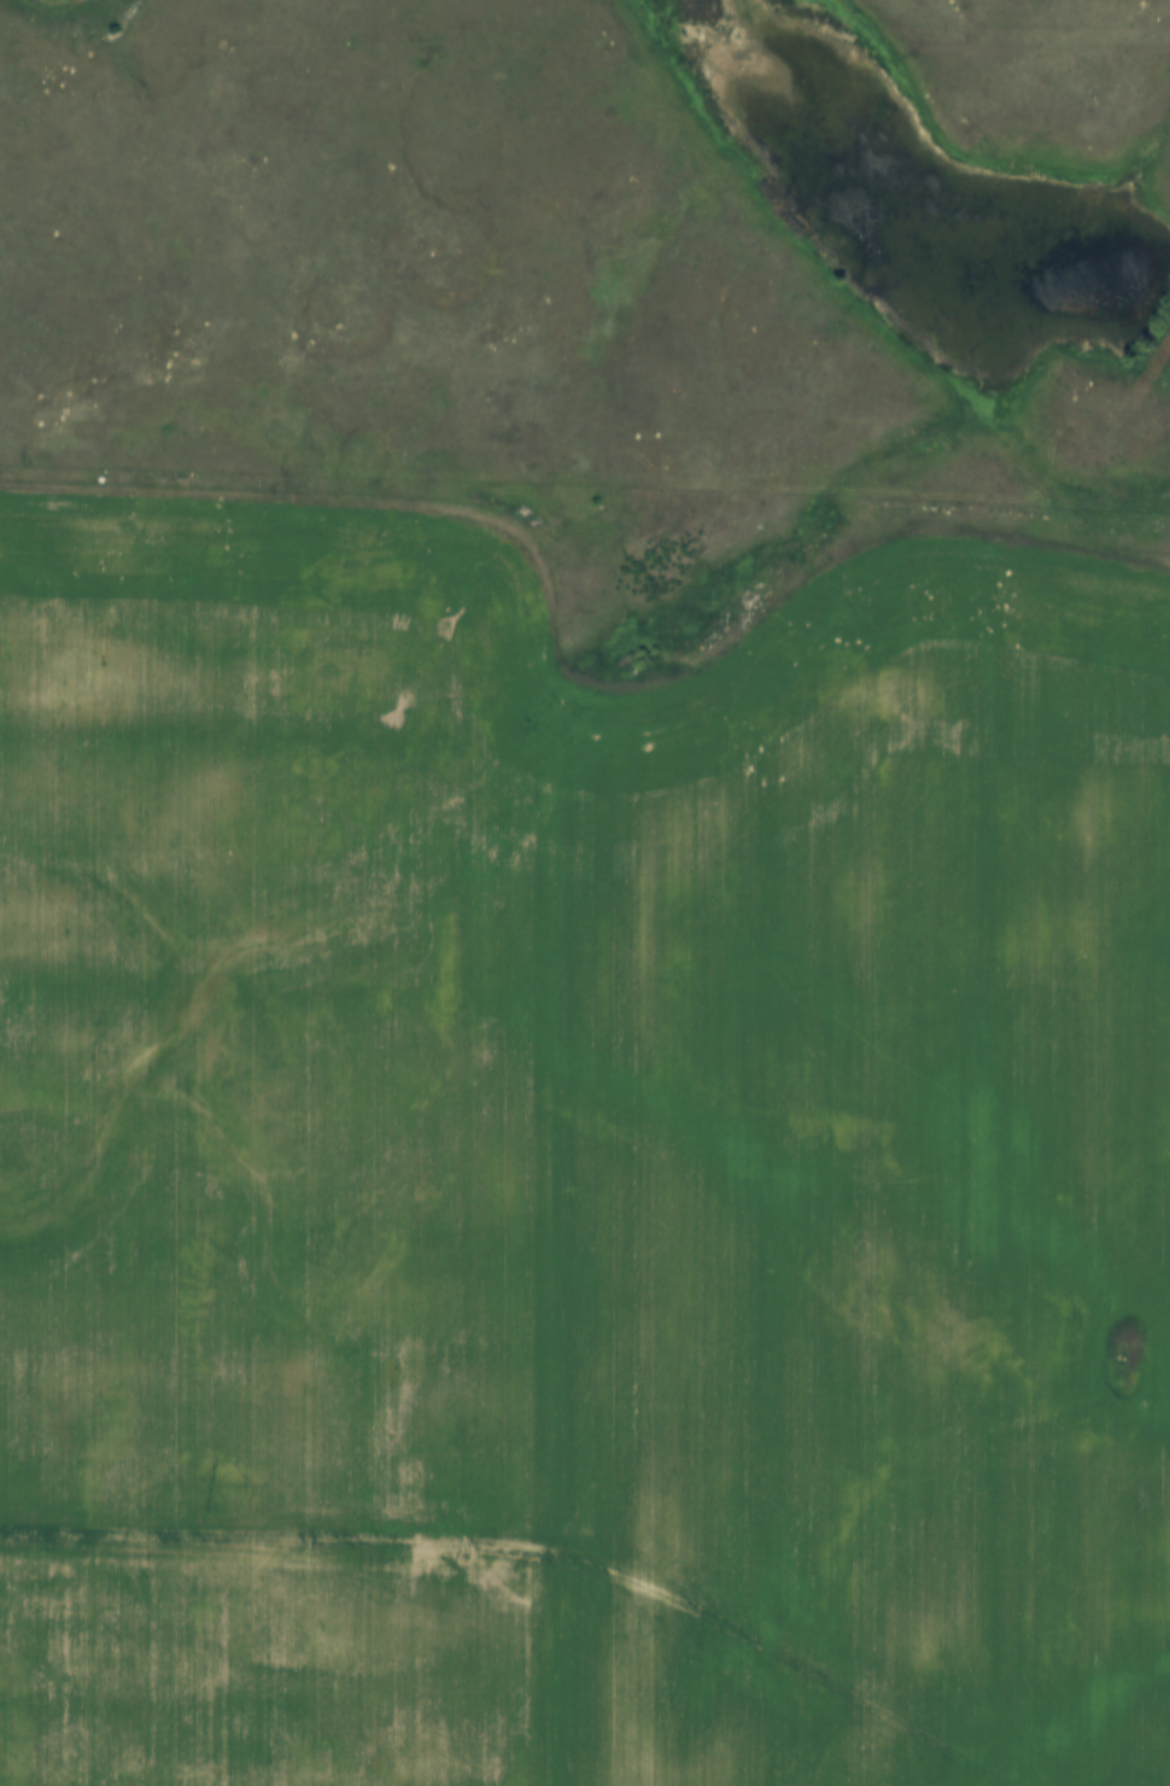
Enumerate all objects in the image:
road: (560, 1560)
road: (581, 1676)

